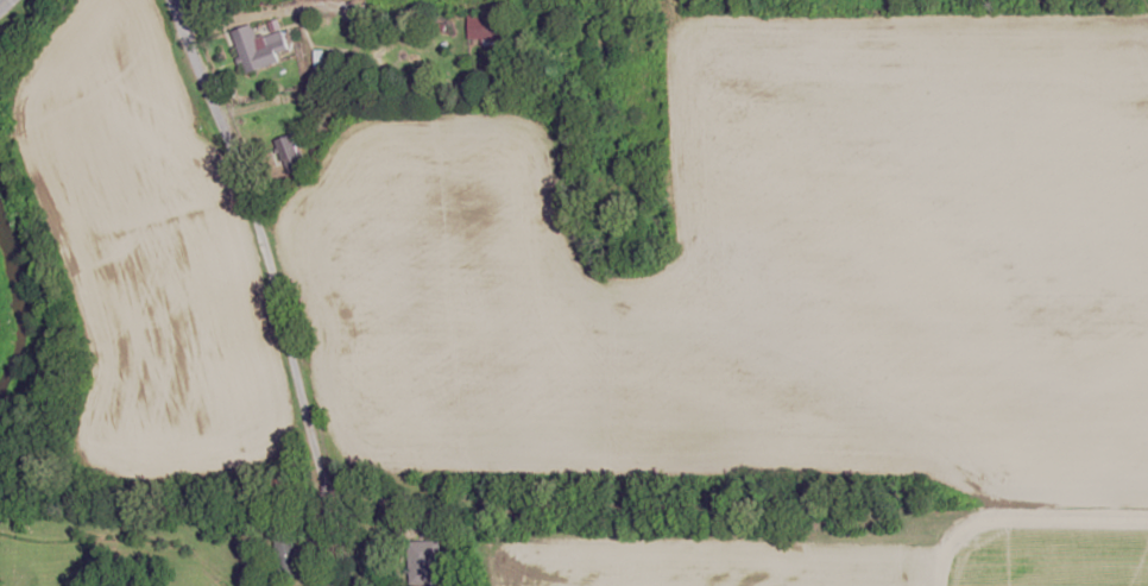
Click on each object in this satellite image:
road: (2, 2)
road: (59, 12)
road: (421, 14)
building: (485, 27)
building: (260, 48)
building: (606, 53)
building: (562, 65)
building: (295, 153)
road: (256, 239)
road: (340, 493)
road: (1041, 529)
building: (286, 552)
building: (425, 562)

